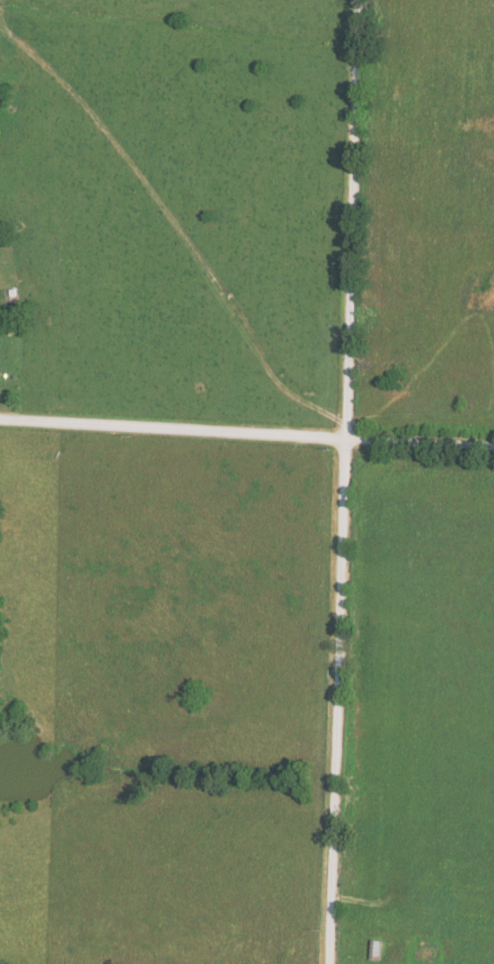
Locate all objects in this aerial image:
road: (75, 302)
road: (246, 426)
road: (343, 481)

